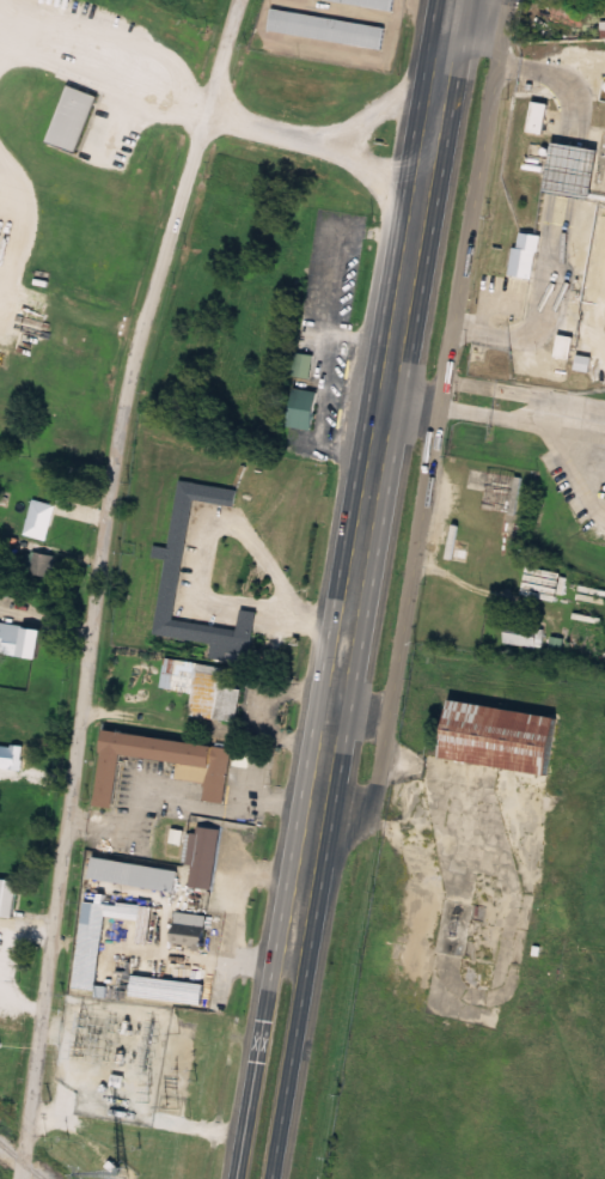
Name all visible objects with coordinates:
building: (367, 4)
building: (325, 30)
building: (536, 118)
building: (71, 120)
building: (570, 174)
building: (525, 253)
building: (562, 347)
building: (582, 364)
building: (301, 366)
building: (300, 409)
road: (434, 434)
building: (38, 521)
building: (41, 566)
road: (99, 582)
building: (170, 583)
road: (340, 589)
road: (374, 589)
building: (524, 637)
building: (19, 642)
building: (202, 691)
building: (496, 739)
building: (8, 756)
building: (203, 768)
building: (202, 858)
building: (132, 876)
building: (7, 899)
building: (187, 931)
building: (86, 967)
building: (166, 991)
power substation: (112, 1058)
power tower: (171, 1105)
railway: (23, 1159)

